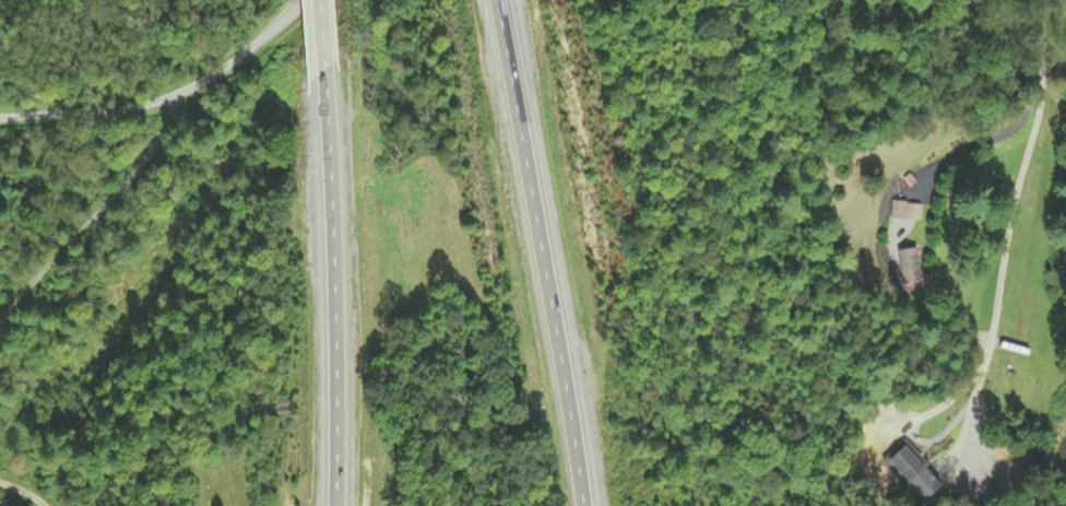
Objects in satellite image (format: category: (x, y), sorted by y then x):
road: (322, 38)
road: (203, 72)
road: (52, 139)
road: (987, 142)
road: (1006, 231)
road: (544, 252)
building: (908, 266)
road: (334, 291)
river: (1042, 468)
building: (912, 474)
building: (996, 474)

